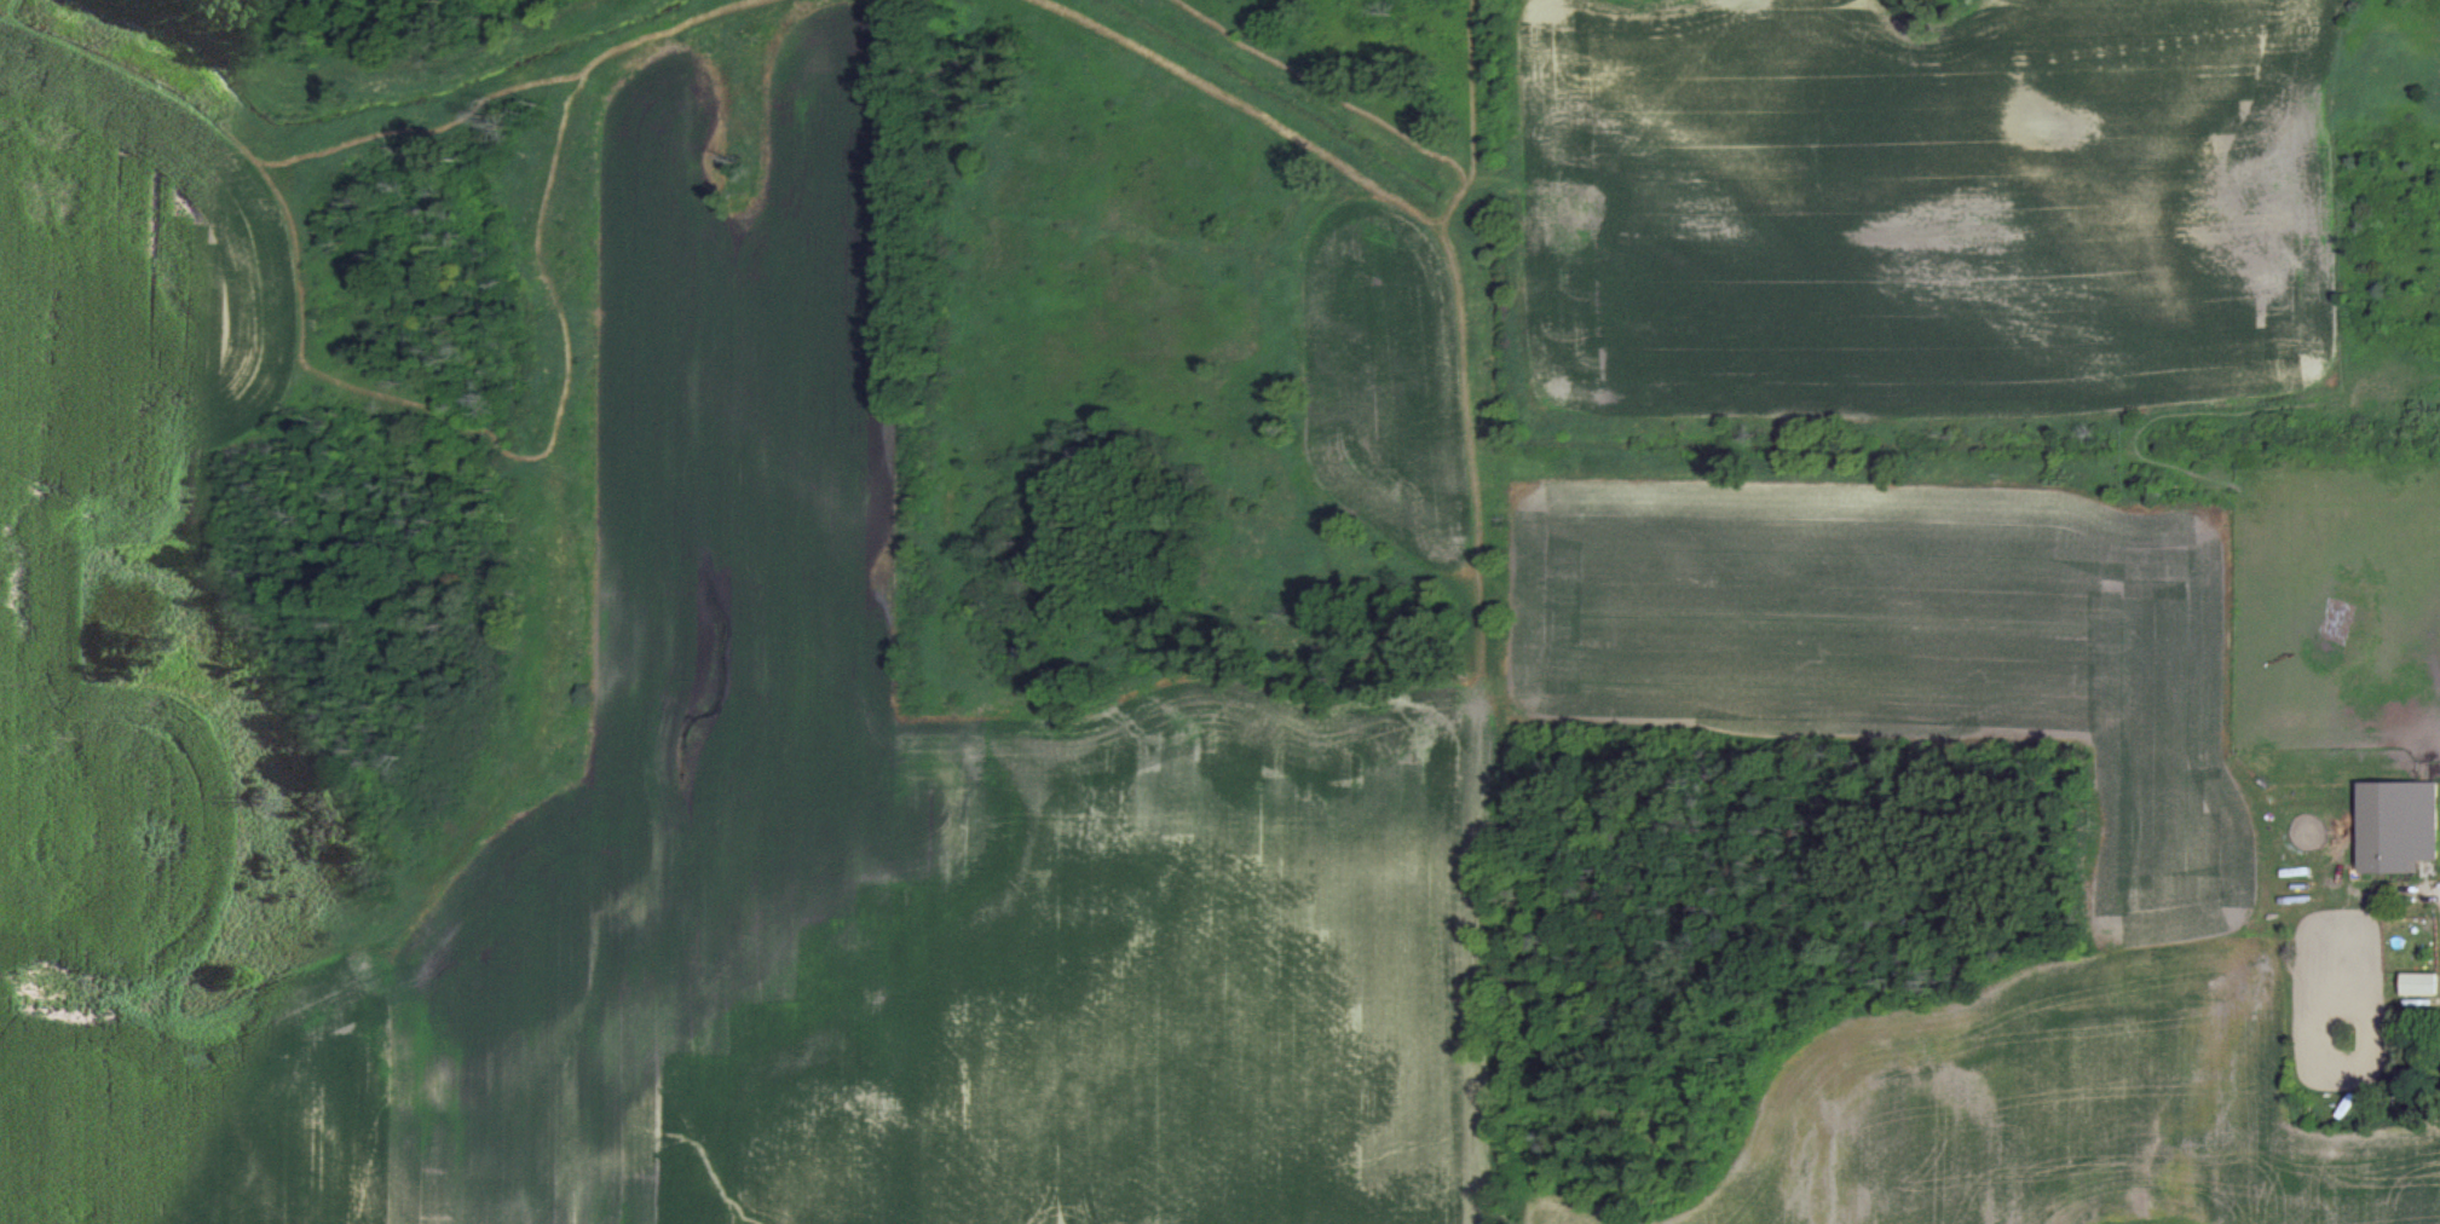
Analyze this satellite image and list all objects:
building: (2396, 825)
road: (2438, 881)
building: (2418, 982)

